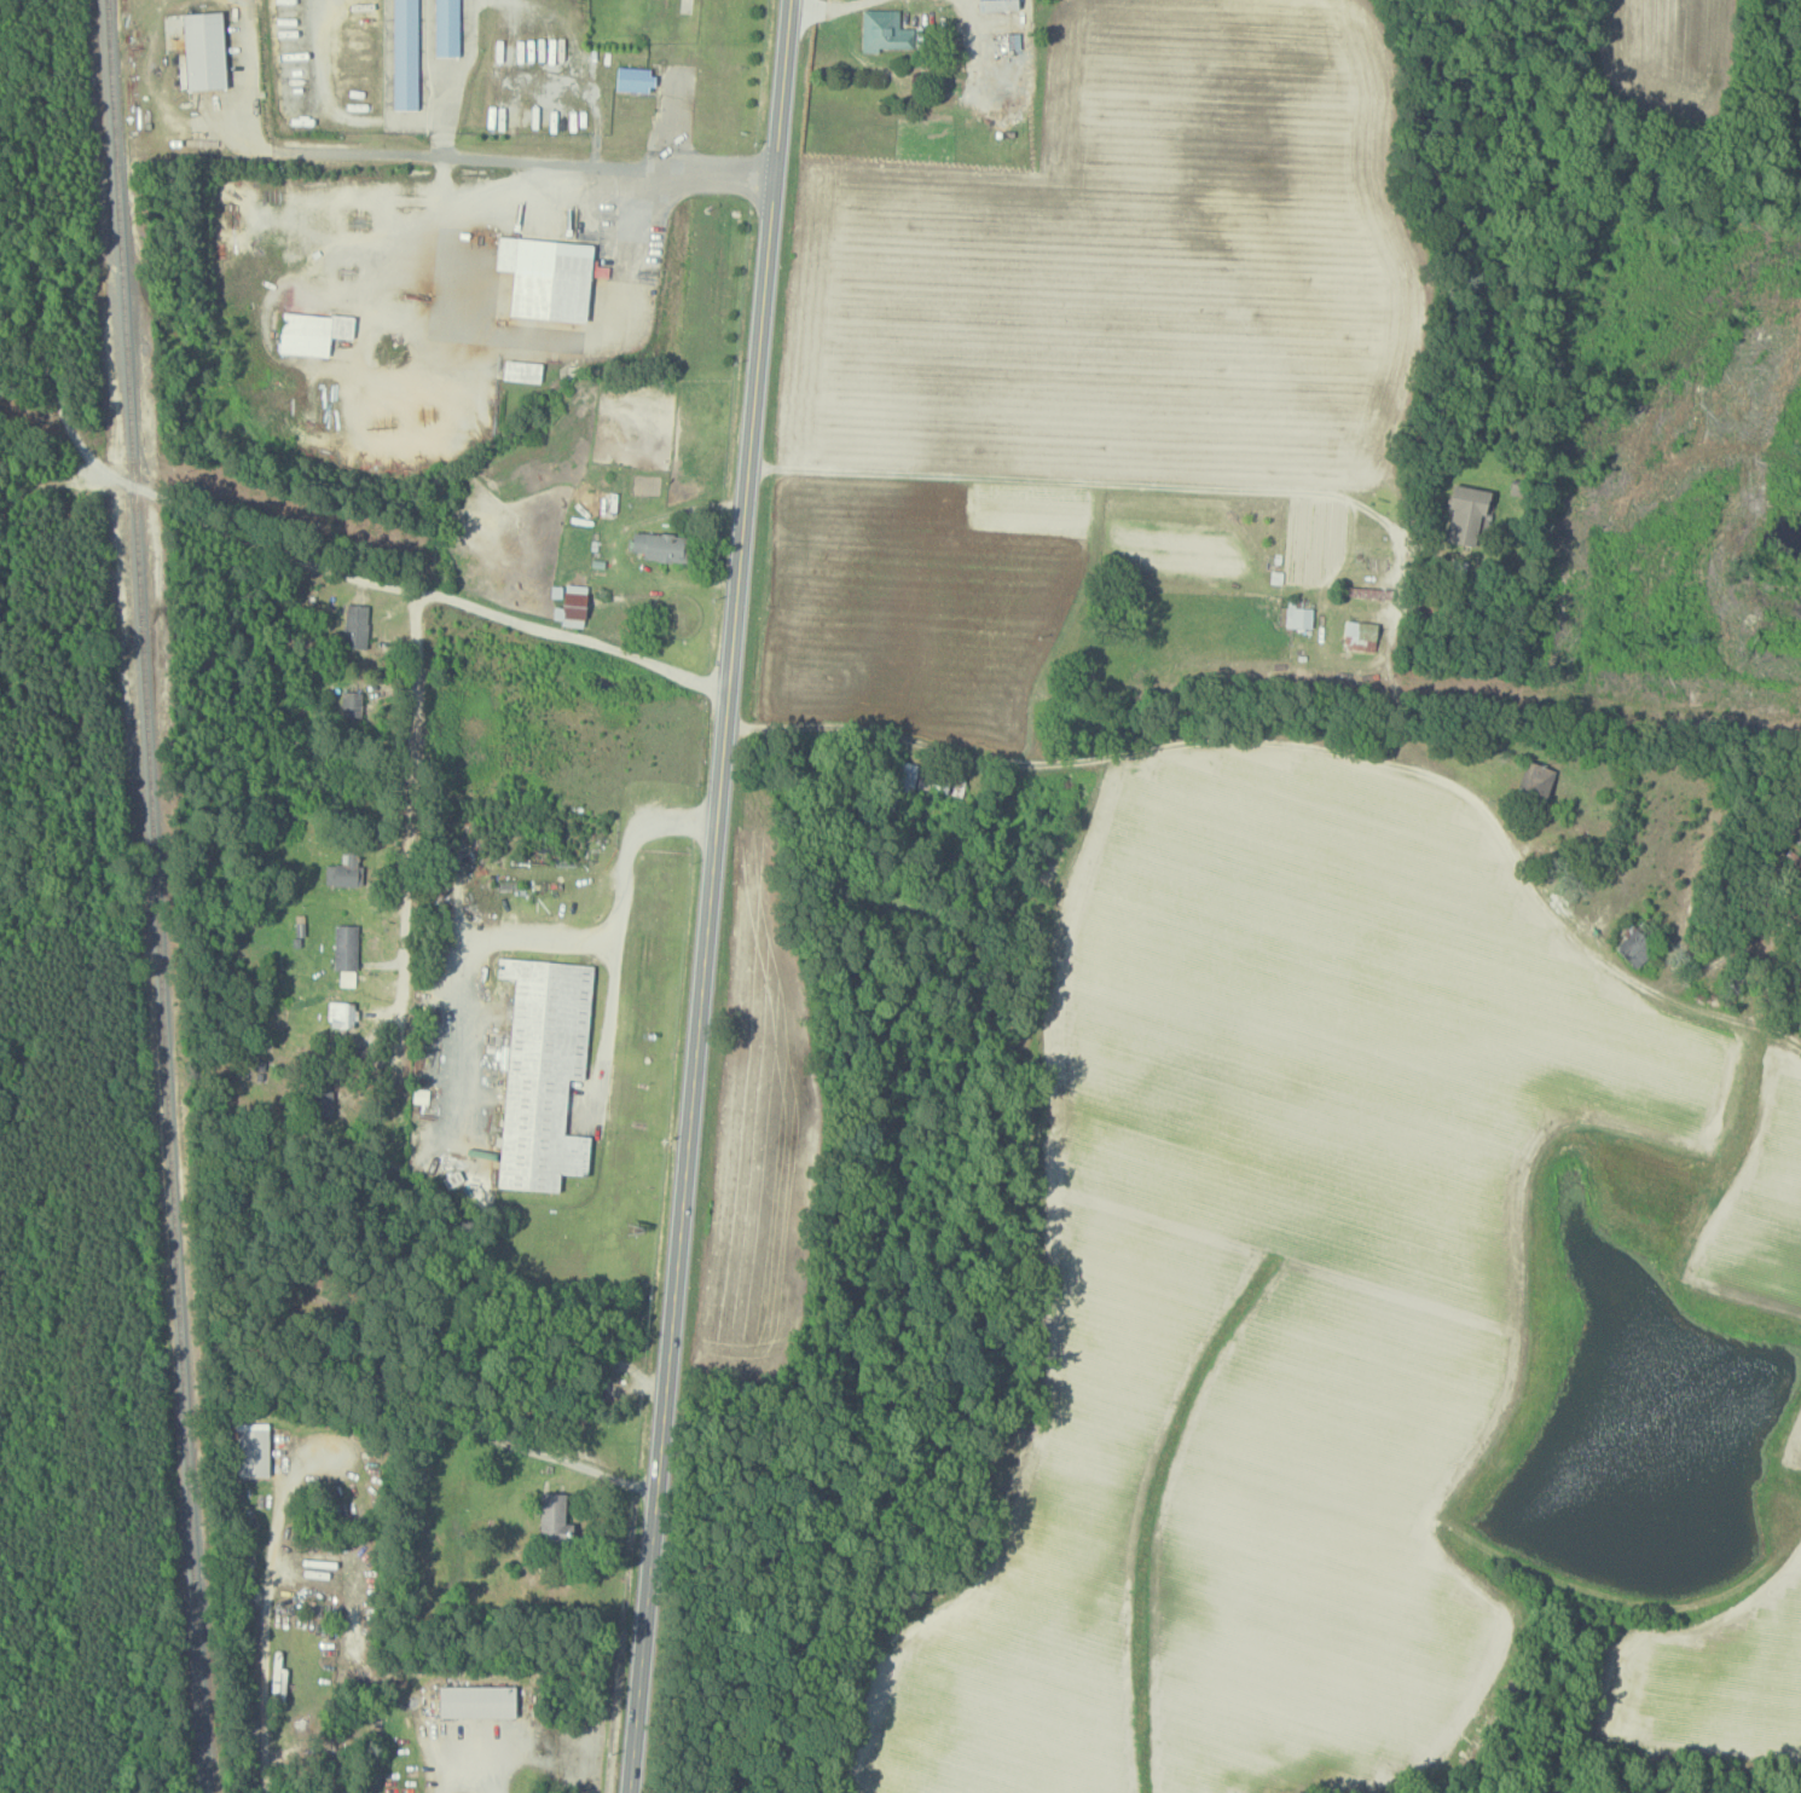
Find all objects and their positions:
road: (824, 5)
building: (997, 5)
building: (447, 28)
building: (885, 30)
building: (405, 54)
building: (633, 80)
road: (492, 160)
building: (546, 276)
building: (312, 331)
building: (521, 370)
road: (1087, 478)
road: (169, 503)
building: (1465, 514)
building: (660, 545)
building: (1371, 591)
building: (571, 605)
building: (1298, 617)
building: (355, 625)
building: (1360, 635)
road: (413, 699)
road: (1314, 750)
building: (908, 775)
building: (1537, 779)
building: (342, 869)
railway: (157, 896)
road: (710, 896)
road: (560, 938)
building: (1634, 944)
building: (346, 953)
building: (341, 1013)
road: (607, 1019)
building: (543, 1071)
building: (254, 1452)
road: (595, 1470)
building: (552, 1517)
road: (276, 1609)
building: (476, 1701)
road: (465, 1776)

